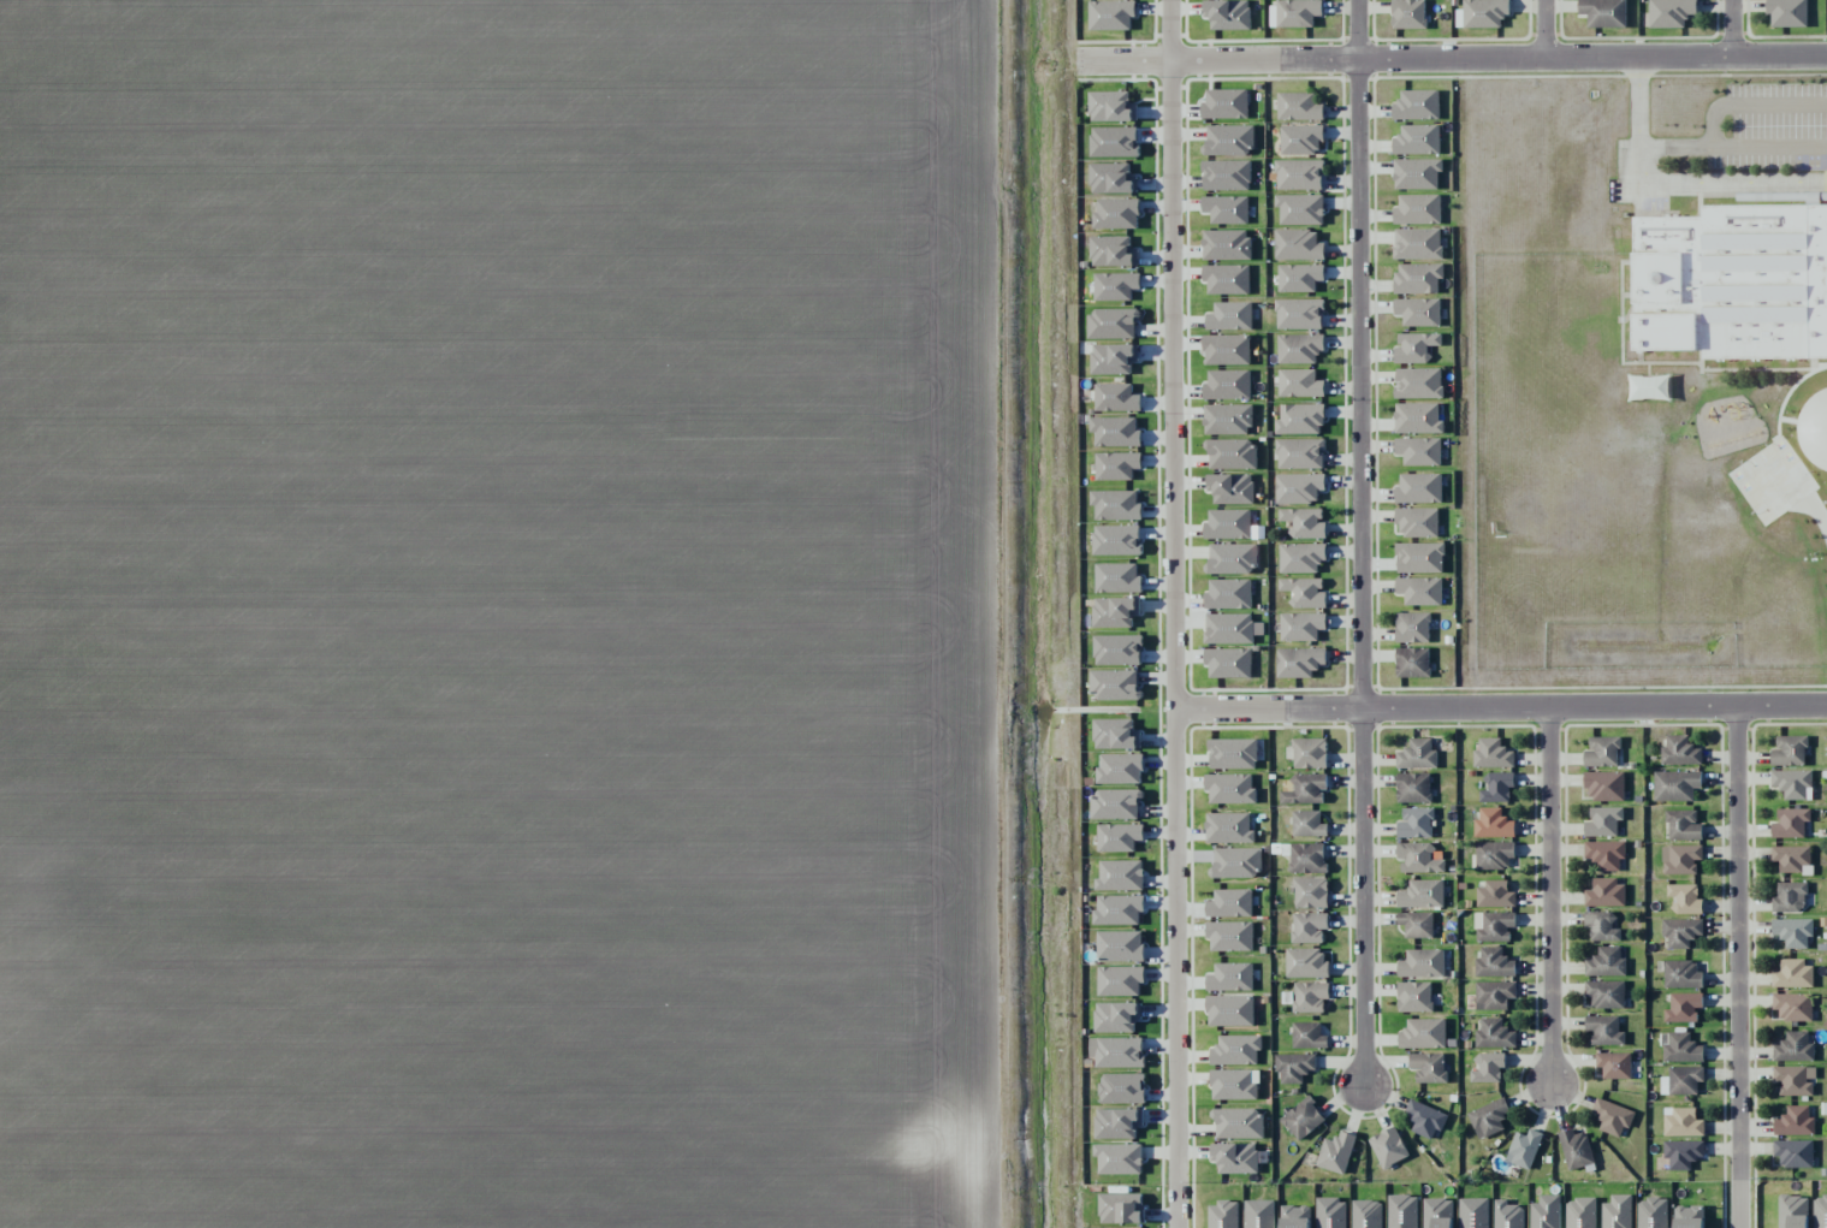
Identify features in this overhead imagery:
building: (1298, 12)
building: (1604, 12)
building: (1671, 12)
building: (1787, 12)
building: (1408, 13)
building: (1484, 13)
building: (1111, 14)
building: (1229, 14)
road: (1731, 28)
road: (1556, 29)
road: (1501, 58)
building: (1226, 103)
building: (1417, 105)
building: (1299, 106)
building: (1111, 107)
building: (1301, 138)
building: (1228, 140)
building: (1417, 140)
building: (1114, 141)
building: (1417, 173)
building: (1227, 174)
building: (1299, 174)
building: (1113, 178)
road: (1669, 183)
building: (1227, 209)
building: (1300, 209)
building: (1418, 209)
building: (1116, 213)
building: (1417, 243)
building: (1226, 244)
building: (1298, 245)
building: (1113, 251)
building: (1299, 277)
building: (1418, 278)
building: (1227, 279)
building: (1733, 283)
building: (1115, 286)
building: (1418, 312)
building: (1299, 313)
building: (1229, 316)
building: (1111, 324)
building: (1299, 348)
building: (1416, 348)
building: (1227, 349)
building: (1114, 358)
building: (1418, 382)
building: (1299, 384)
building: (1227, 385)
building: (1116, 397)
building: (1227, 419)
building: (1300, 419)
building: (1418, 419)
building: (1115, 431)
building: (1815, 431)
building: (1419, 451)
building: (1232, 453)
building: (1300, 453)
building: (1116, 465)
building: (1233, 488)
building: (1299, 488)
building: (1419, 488)
building: (1115, 505)
building: (1418, 522)
building: (1304, 523)
building: (1228, 524)
building: (1116, 540)
road: (1360, 544)
building: (1301, 557)
building: (1419, 557)
building: (1232, 558)
building: (1117, 577)
building: (1420, 591)
building: (1305, 592)
building: (1228, 594)
building: (1114, 611)
road: (1175, 613)
building: (1301, 625)
building: (1412, 627)
building: (1229, 628)
building: (1117, 649)
building: (1299, 662)
building: (1412, 662)
building: (1228, 663)
building: (1114, 684)
road: (1500, 707)
building: (1115, 734)
building: (1680, 751)
building: (1790, 751)
building: (1602, 752)
building: (1233, 753)
building: (1310, 753)
building: (1493, 753)
building: (1417, 754)
building: (1120, 769)
building: (1791, 782)
building: (1604, 785)
building: (1675, 785)
building: (1496, 787)
building: (1230, 788)
building: (1413, 788)
building: (1306, 789)
building: (1115, 805)
building: (1603, 821)
building: (1416, 823)
building: (1791, 823)
building: (1307, 824)
building: (1494, 824)
building: (1683, 825)
building: (1229, 827)
building: (1119, 837)
building: (1606, 854)
building: (1494, 855)
building: (1307, 858)
building: (1418, 858)
building: (1791, 858)
building: (1680, 859)
building: (1236, 862)
building: (1120, 876)
building: (1311, 892)
building: (1604, 892)
building: (1422, 894)
building: (1495, 894)
building: (1790, 897)
building: (1685, 898)
road: (1549, 900)
building: (1230, 903)
building: (1117, 909)
building: (1417, 924)
building: (1602, 925)
building: (1309, 926)
building: (1494, 926)
building: (1680, 931)
building: (1793, 931)
building: (1230, 936)
building: (1120, 945)
building: (1607, 962)
building: (1306, 963)
building: (1423, 963)
building: (1494, 963)
road: (1749, 967)
building: (1680, 973)
building: (1793, 974)
building: (1230, 977)
building: (1120, 980)
building: (1606, 993)
building: (1494, 995)
building: (1310, 996)
building: (1414, 997)
building: (1683, 1007)
building: (1792, 1007)
building: (1230, 1010)
building: (1117, 1016)
building: (1604, 1030)
building: (1423, 1033)
building: (1494, 1034)
building: (1309, 1036)
building: (1793, 1048)
building: (1681, 1049)
building: (1236, 1050)
building: (1117, 1051)
building: (1614, 1064)
building: (1294, 1066)
building: (1429, 1067)
building: (1488, 1067)
building: (1681, 1080)
building: (1795, 1080)
building: (1233, 1084)
building: (1122, 1087)
building: (1612, 1116)
building: (1489, 1117)
building: (1303, 1119)
building: (1424, 1119)
building: (1795, 1121)
building: (1683, 1122)
building: (1117, 1123)
building: (1238, 1123)
building: (1388, 1147)
building: (1524, 1149)
building: (1577, 1150)
building: (1336, 1152)
building: (1793, 1152)
building: (1683, 1153)
building: (1236, 1157)
building: (1119, 1158)
building: (1259, 1214)
building: (1331, 1214)
building: (1295, 1217)
building: (1687, 1218)

